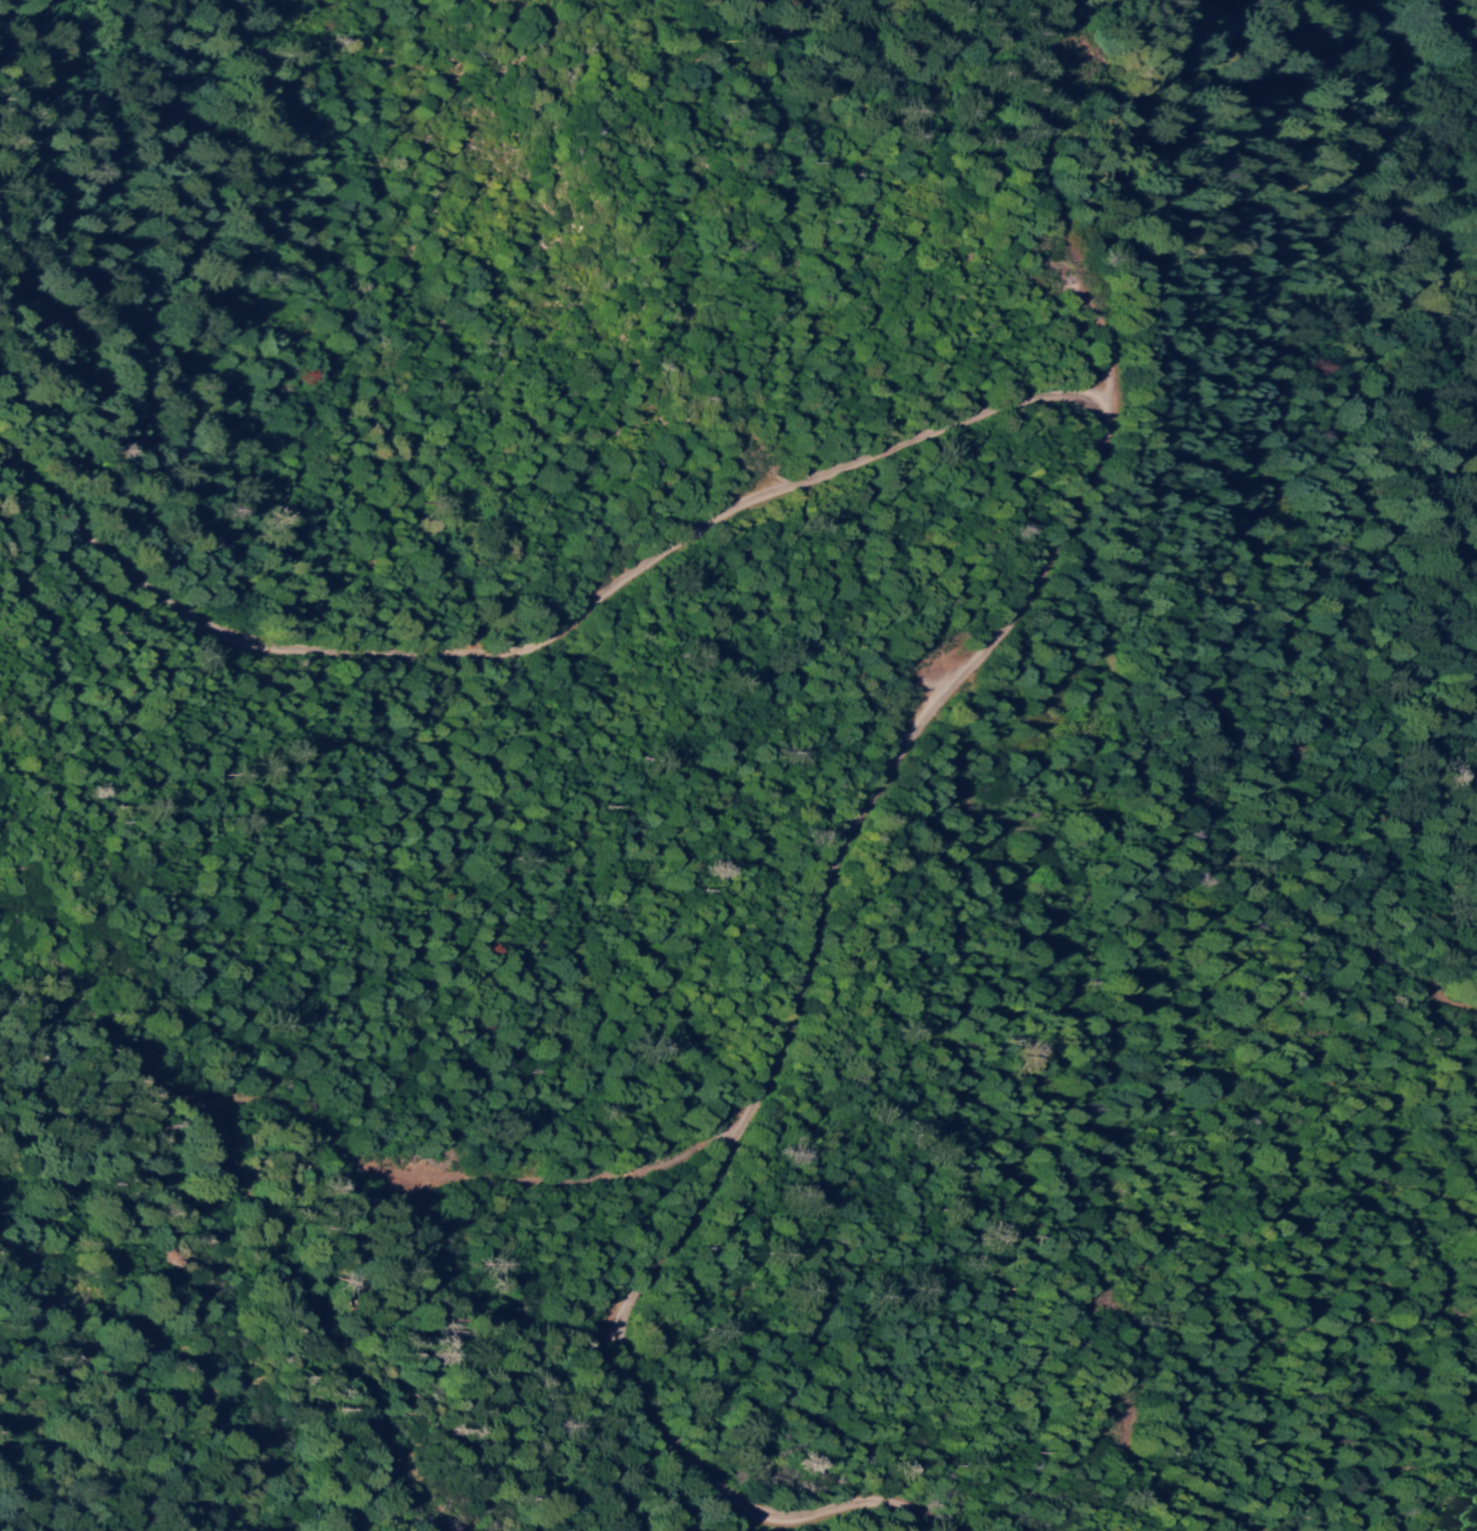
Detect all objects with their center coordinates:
road: (1057, 540)

